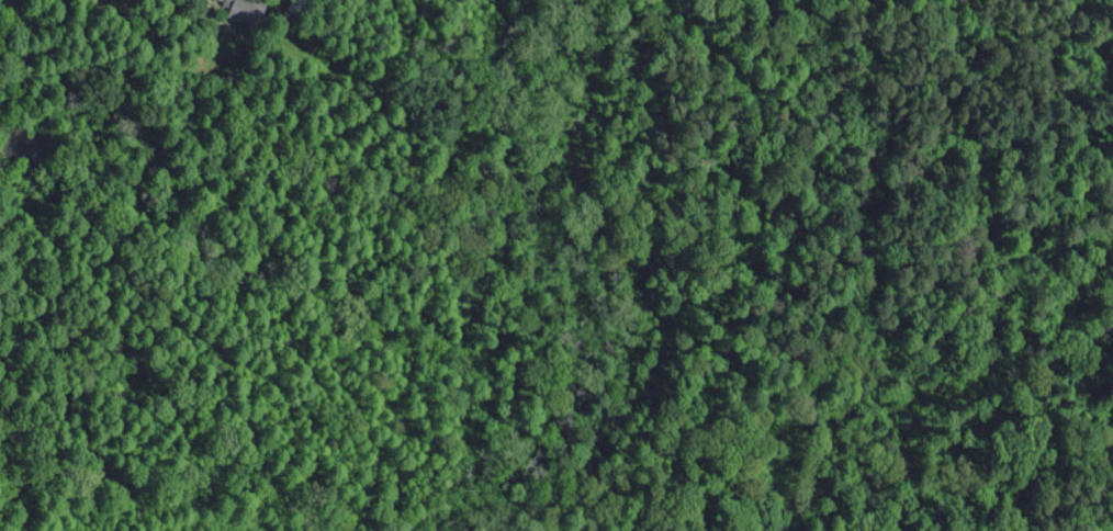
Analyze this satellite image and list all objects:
building: (243, 9)

